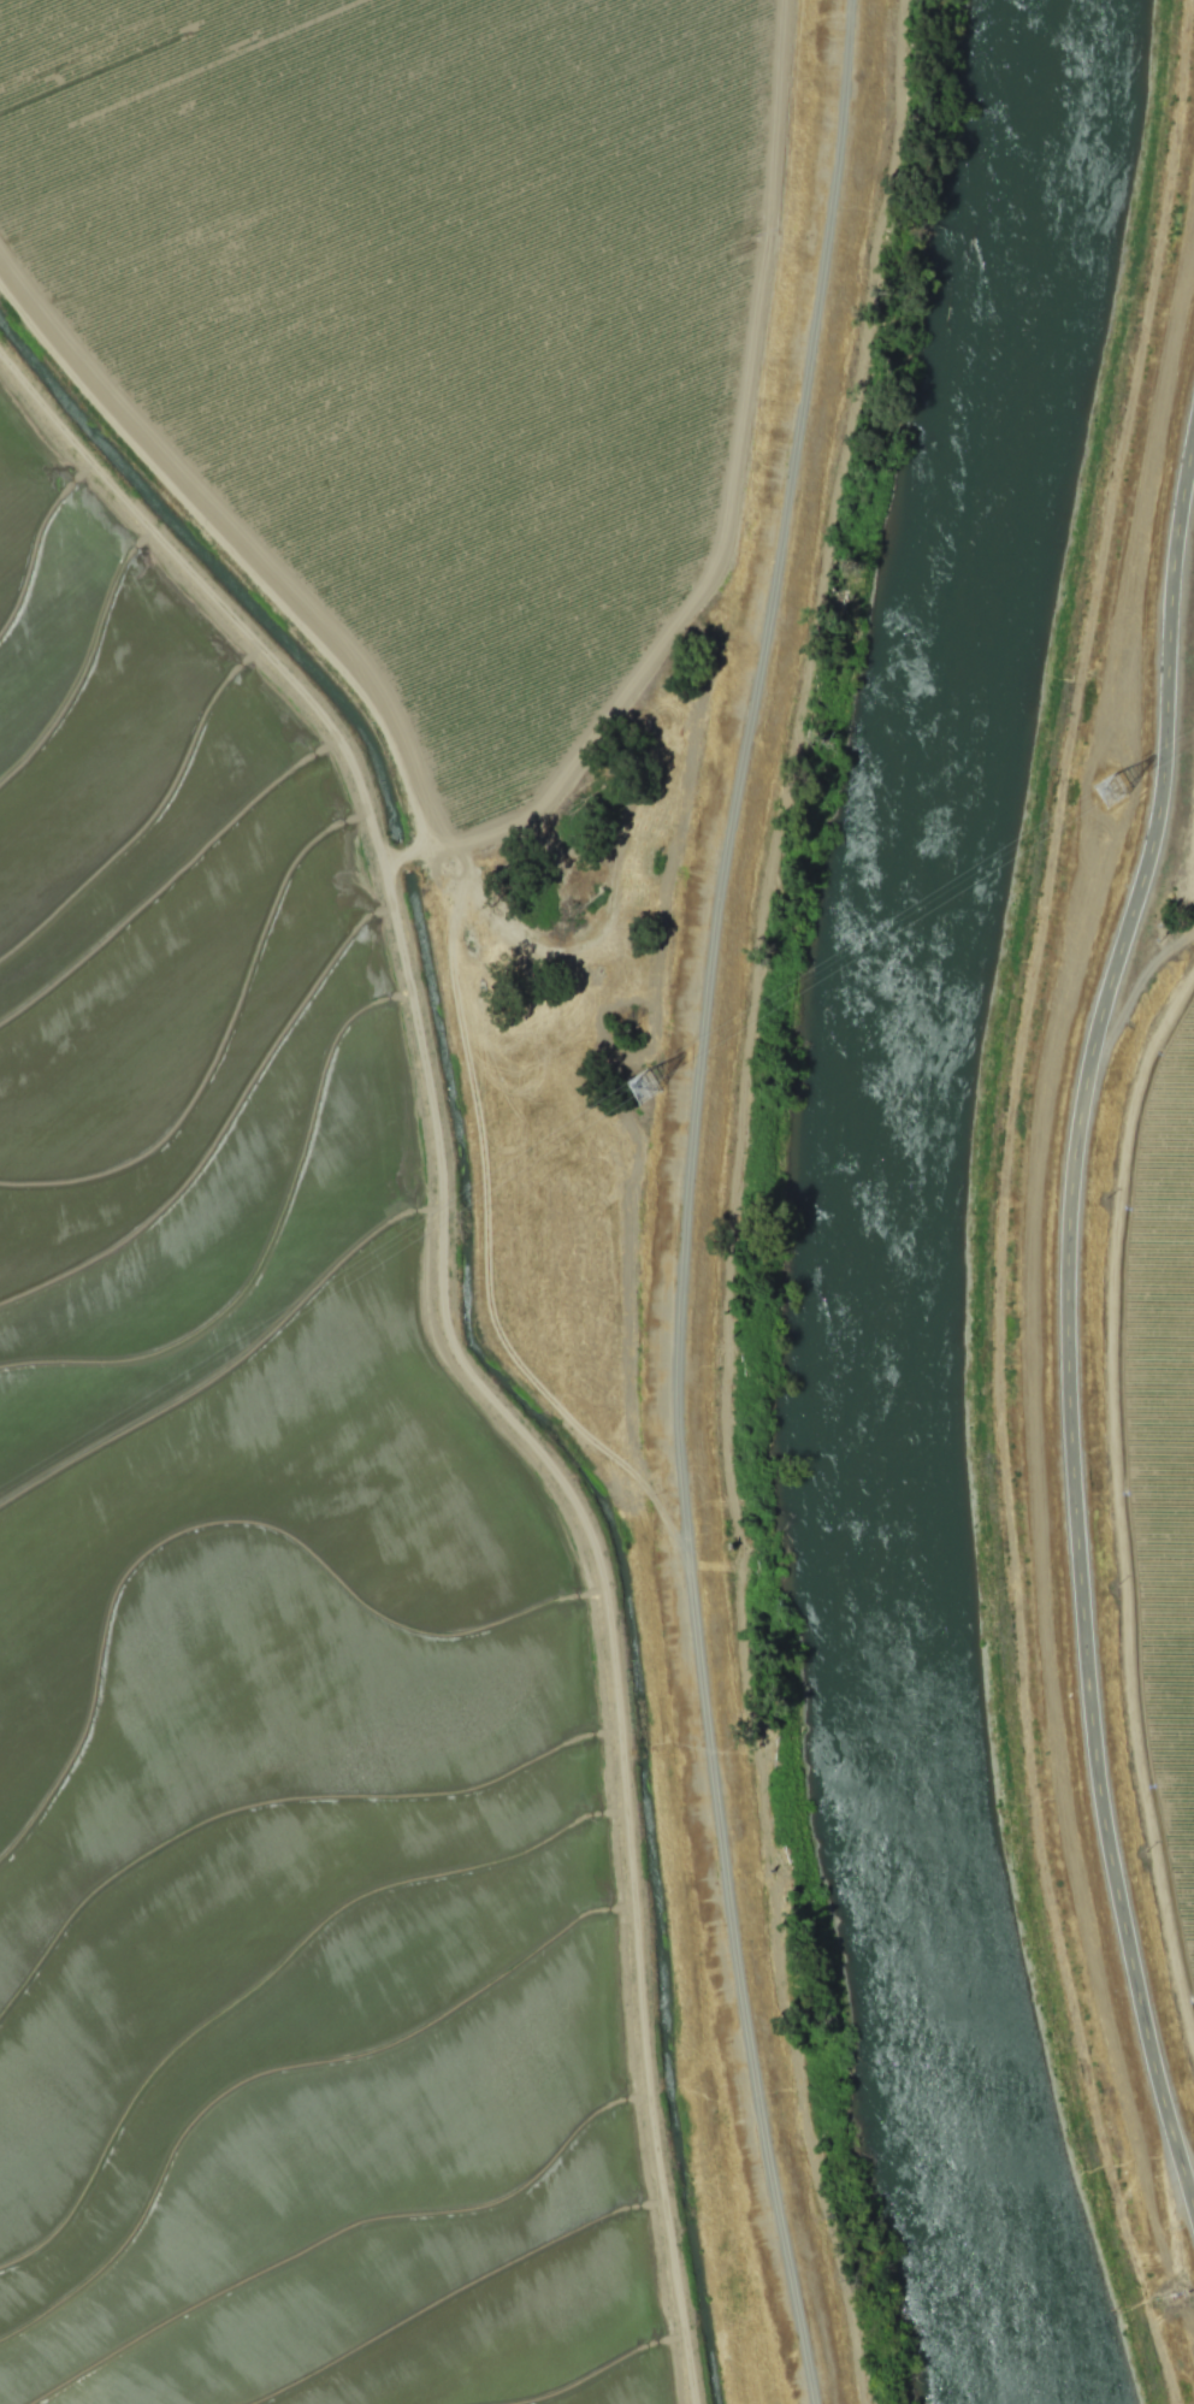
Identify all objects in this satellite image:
power tower: (1115, 792)
road: (1192, 822)
power tower: (649, 1093)
crop: (351, 1176)
road: (690, 1200)
river: (885, 1203)
road: (1066, 1315)
crop: (1151, 1434)
road: (1117, 1499)
road: (1186, 2163)

